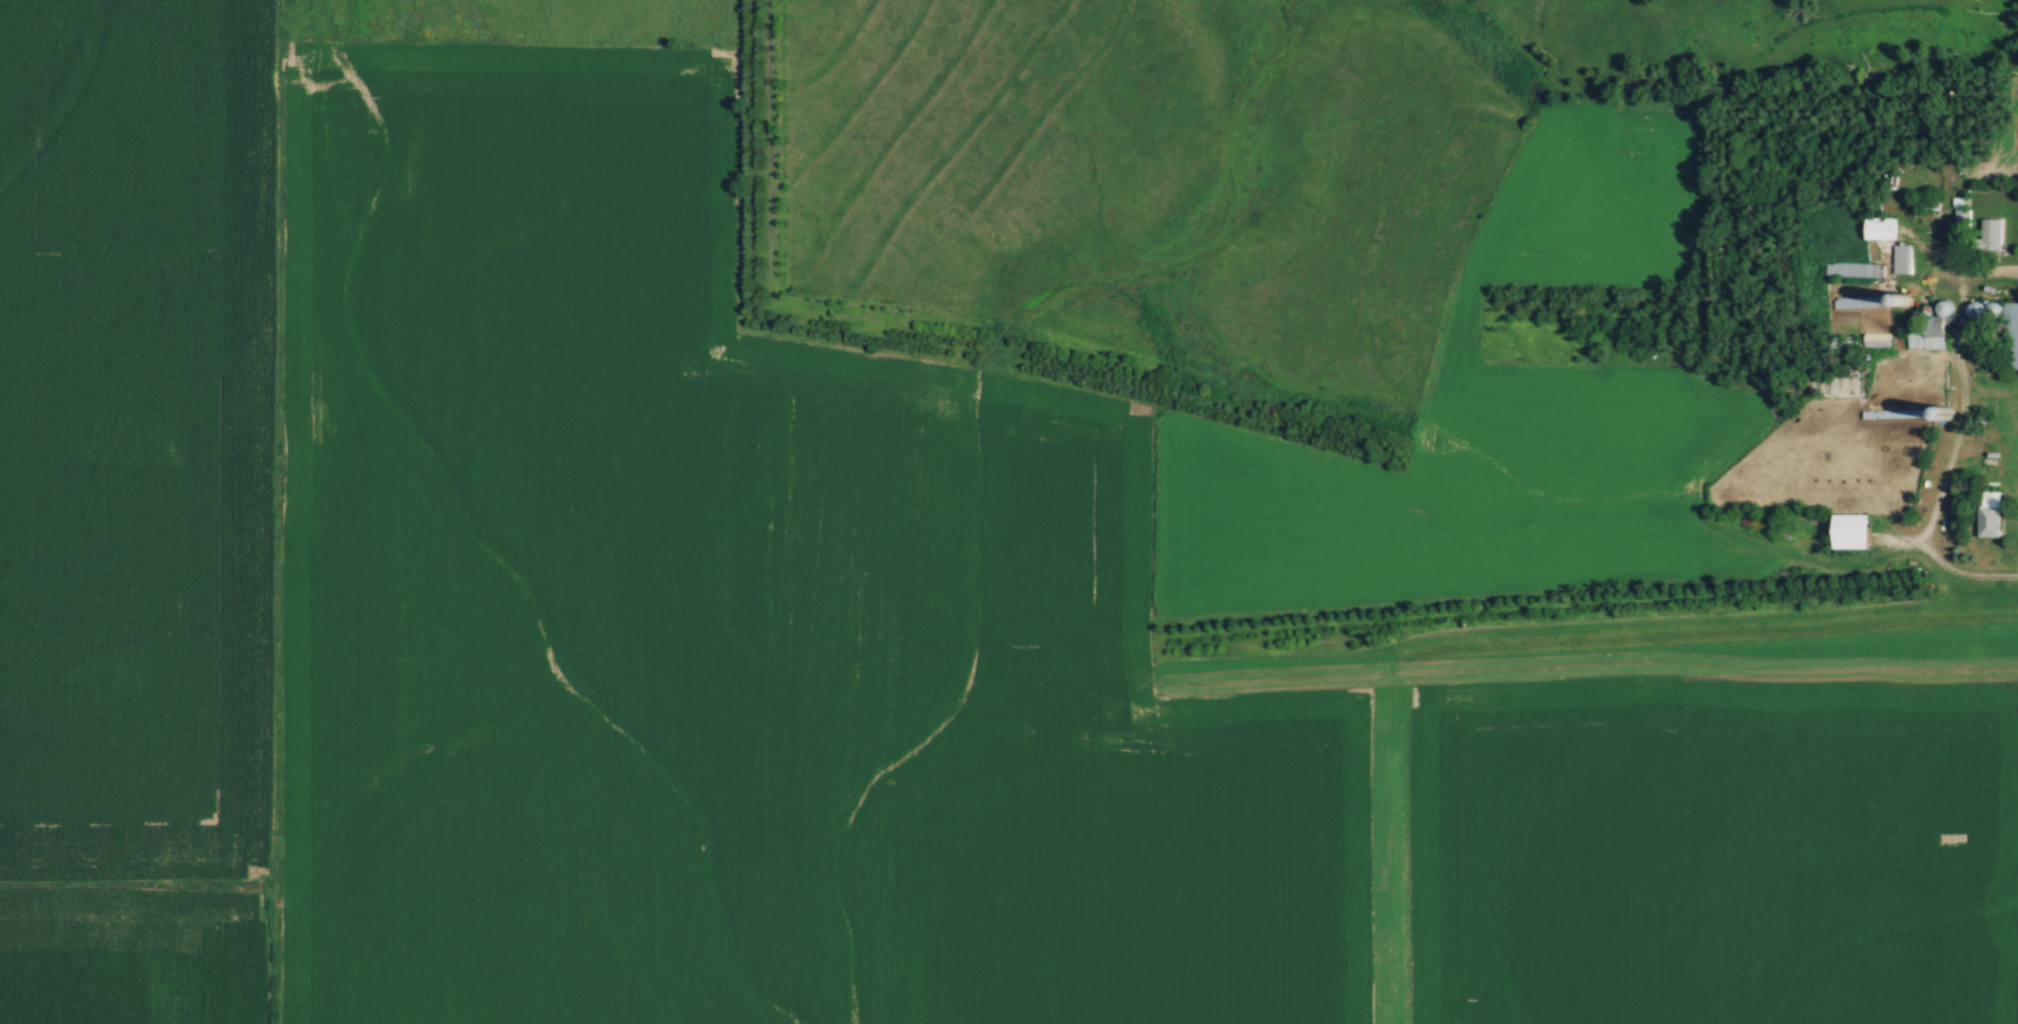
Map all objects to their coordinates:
building: (1926, 204)
building: (1962, 216)
building: (1880, 227)
building: (1990, 235)
building: (1901, 258)
building: (1853, 269)
building: (1862, 301)
building: (2002, 327)
building: (1929, 334)
building: (1877, 339)
building: (1841, 342)
road: (1963, 346)
building: (1850, 360)
building: (1896, 413)
building: (1989, 513)
building: (1851, 531)

